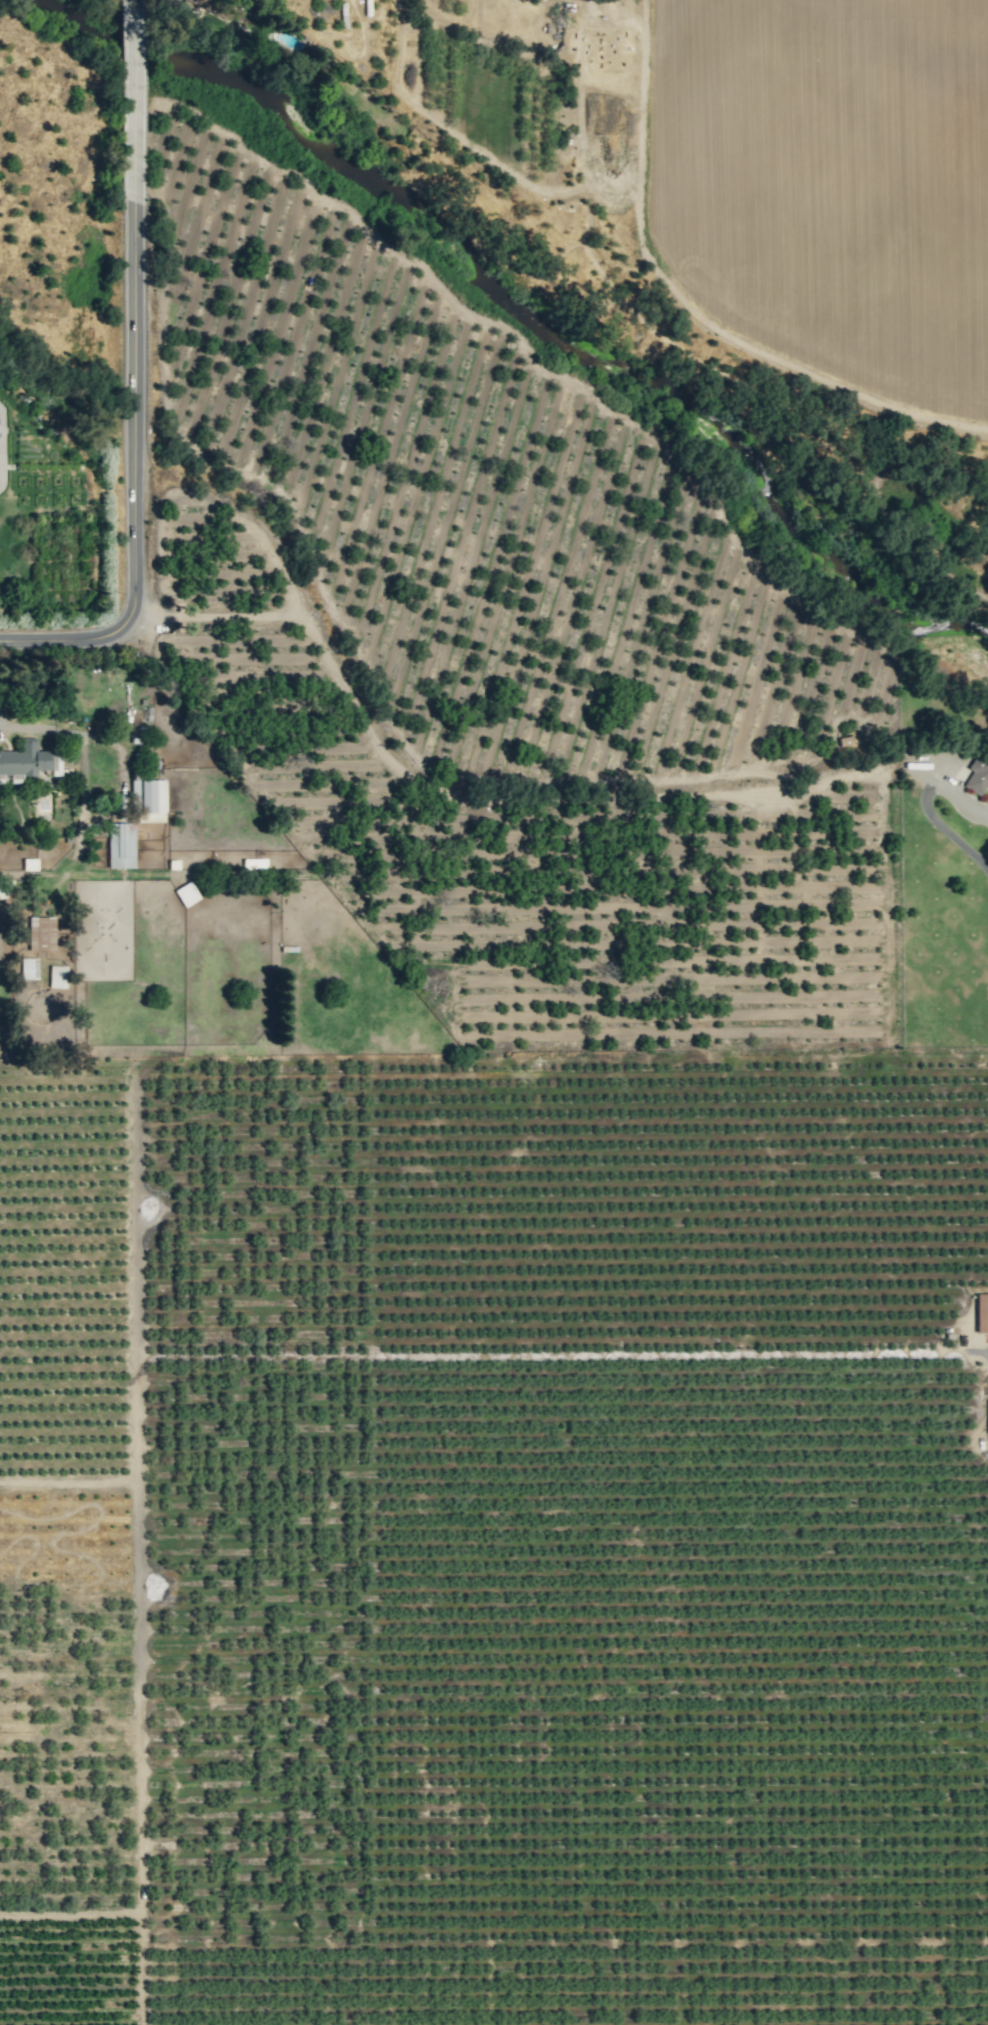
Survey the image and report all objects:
road: (588, 2)
road: (127, 376)
road: (28, 727)
road: (105, 739)
building: (977, 774)
building: (148, 799)
road: (925, 804)
building: (121, 845)
building: (5, 888)
building: (186, 893)
building: (45, 930)
building: (29, 967)
building: (58, 976)
building: (981, 1312)
building: (987, 1415)

